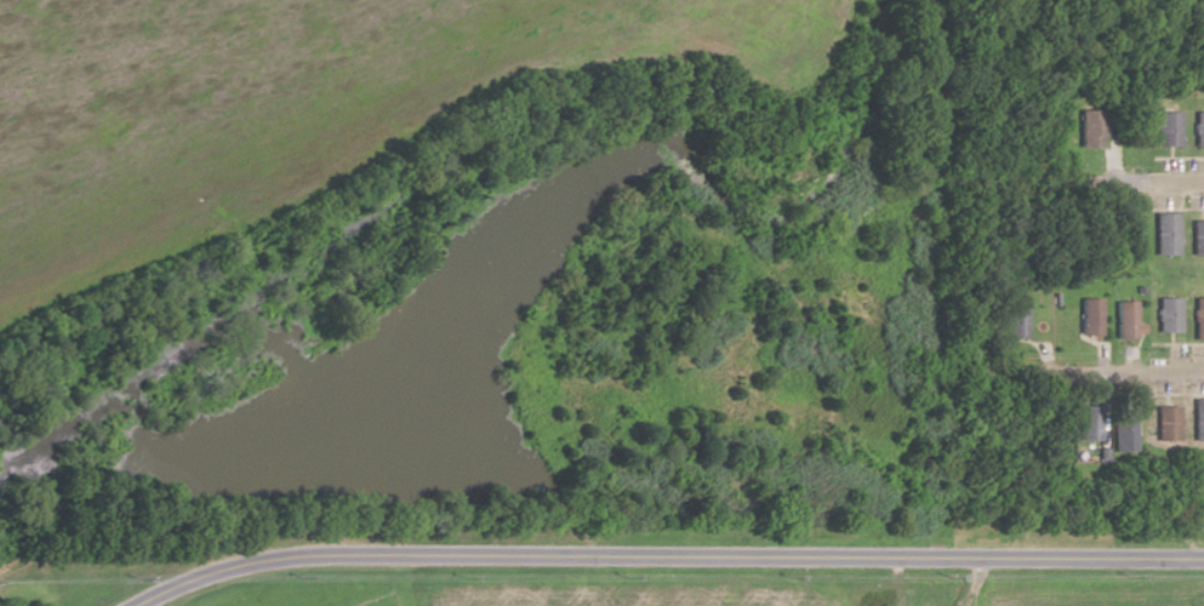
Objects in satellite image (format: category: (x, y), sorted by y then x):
building: (1089, 128)
building: (1166, 128)
building: (1198, 128)
road: (1140, 184)
building: (1165, 233)
building: (1197, 236)
building: (1168, 314)
building: (1089, 316)
building: (1198, 318)
building: (1124, 319)
building: (1015, 320)
road: (1114, 372)
building: (1198, 418)
building: (1089, 421)
building: (1166, 423)
building: (1123, 433)
road: (663, 554)
road: (968, 581)
park: (381, 601)

